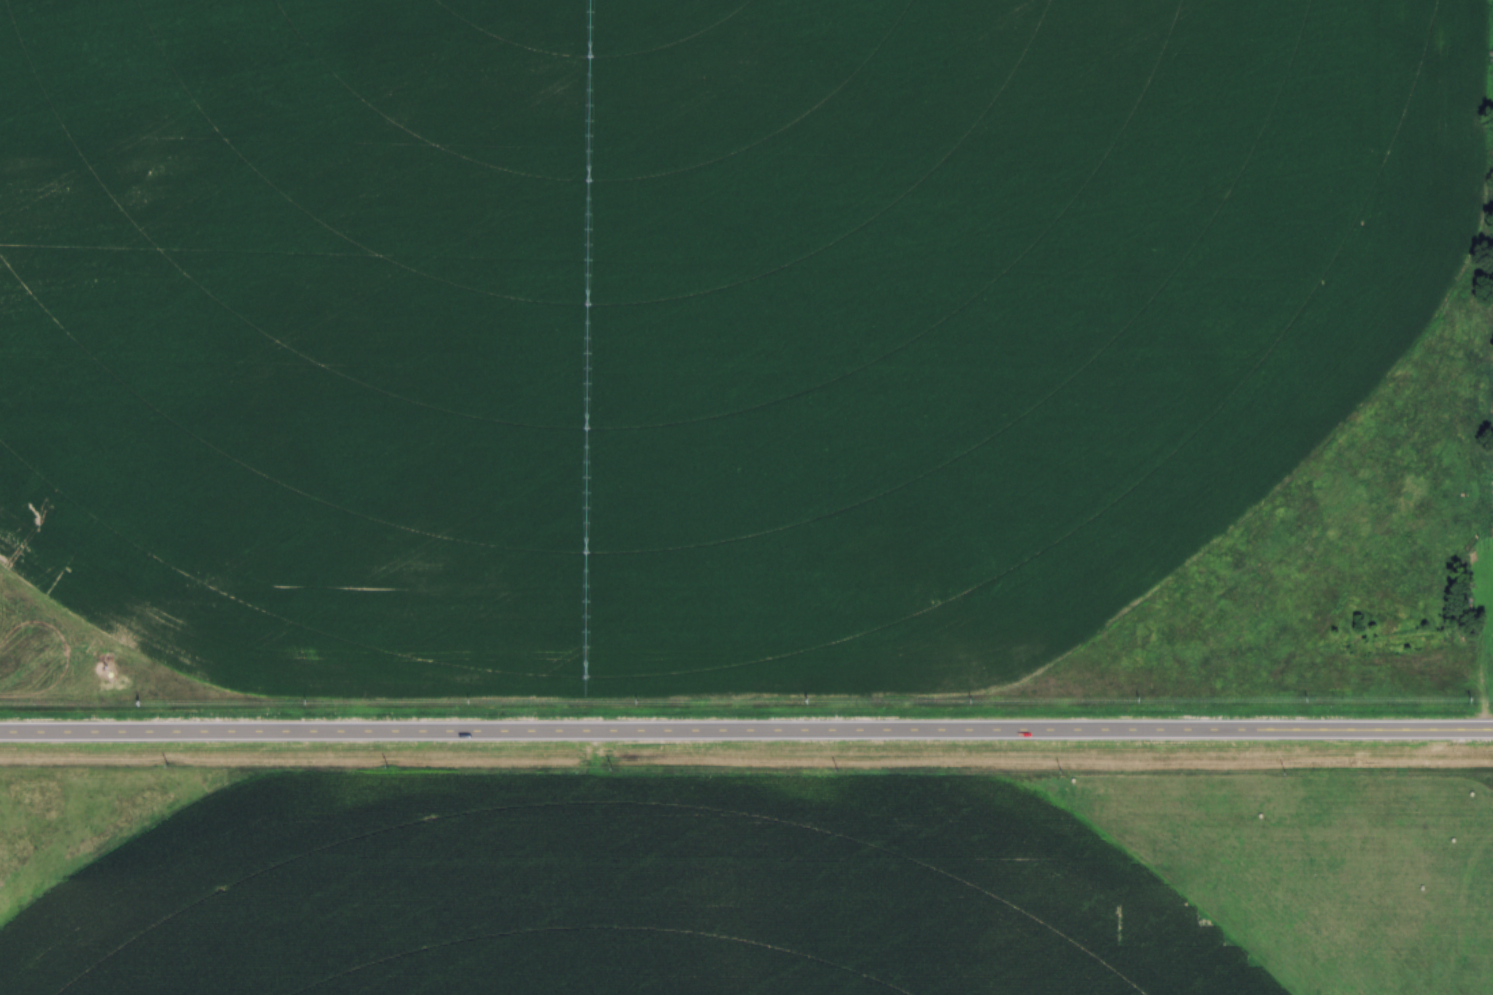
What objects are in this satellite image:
road: (746, 730)

